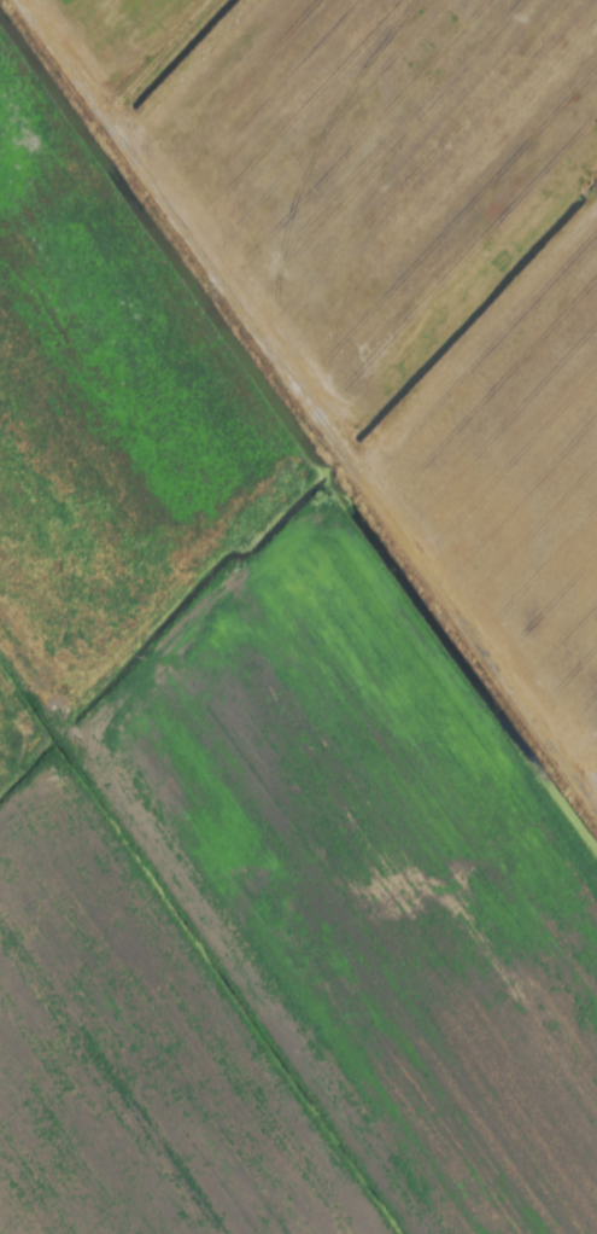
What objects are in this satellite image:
crop: (298, 617)

